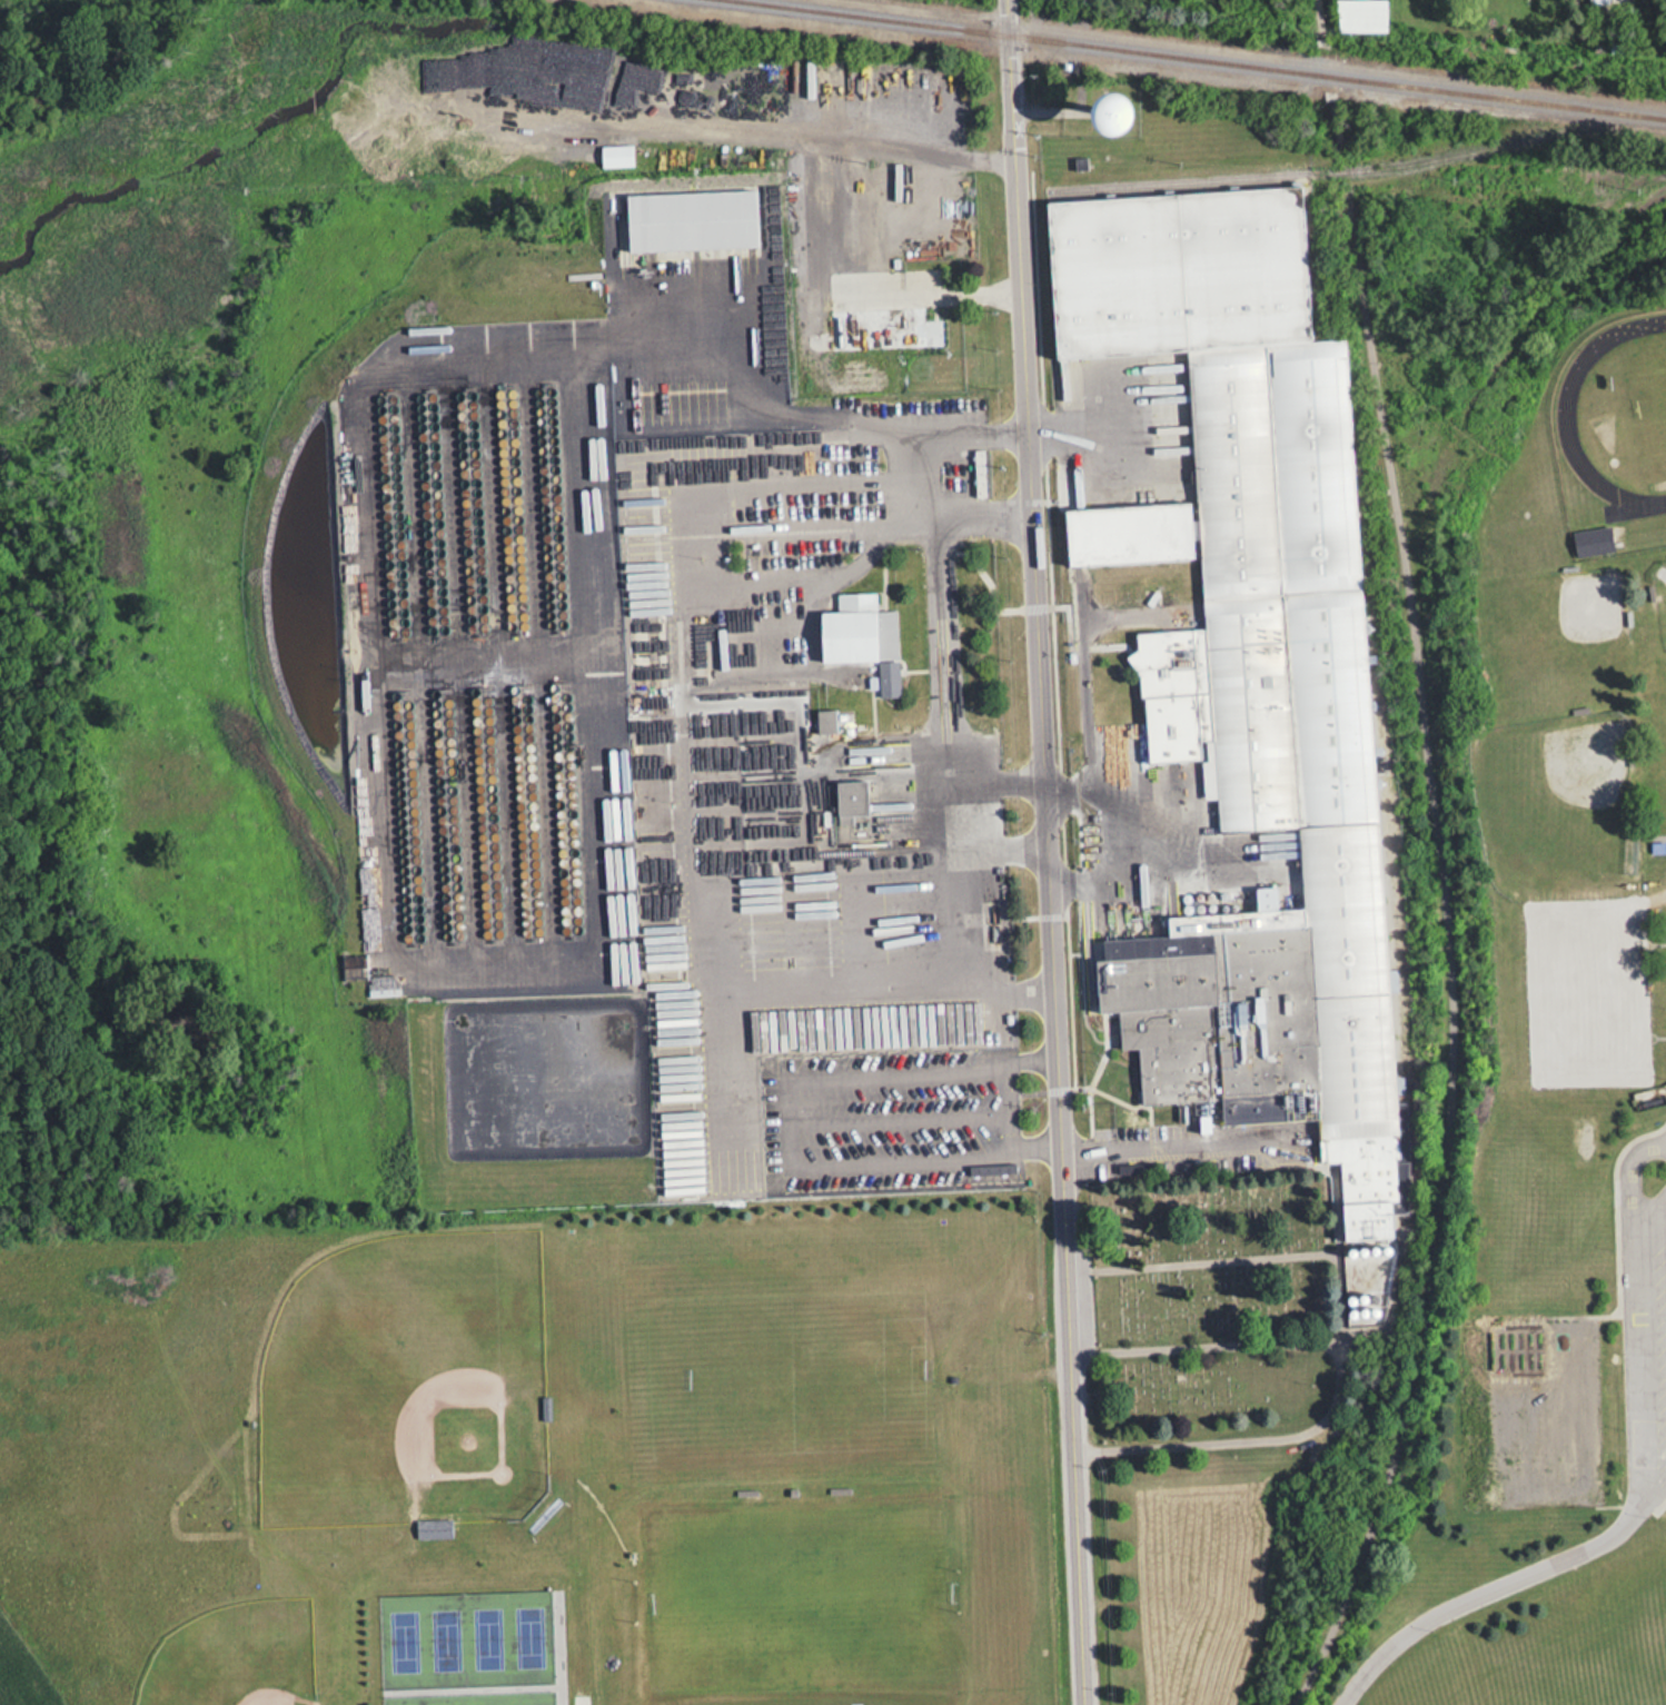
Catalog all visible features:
building: (1360, 14)
road: (1006, 17)
road: (1322, 19)
railway: (1204, 58)
building: (1108, 109)
building: (447, 143)
building: (614, 155)
railway: (1329, 170)
building: (691, 224)
building: (882, 328)
road: (914, 470)
building: (1591, 541)
building: (860, 636)
building: (1248, 670)
road: (949, 694)
building: (824, 721)
road: (384, 772)
building: (850, 797)
building: (1657, 846)
road: (1005, 850)
road: (1052, 869)
road: (1444, 913)
road: (968, 936)
road: (1017, 1106)
road: (793, 1120)
road: (1169, 1142)
park: (1218, 1324)
park: (1573, 1364)
park: (1527, 1366)
park: (1482, 1367)
park: (405, 1368)
building: (544, 1408)
park: (1575, 1456)
park: (1530, 1458)
park: (1486, 1459)
building: (432, 1528)
road: (1497, 1584)
park: (470, 1646)
park: (235, 1658)

